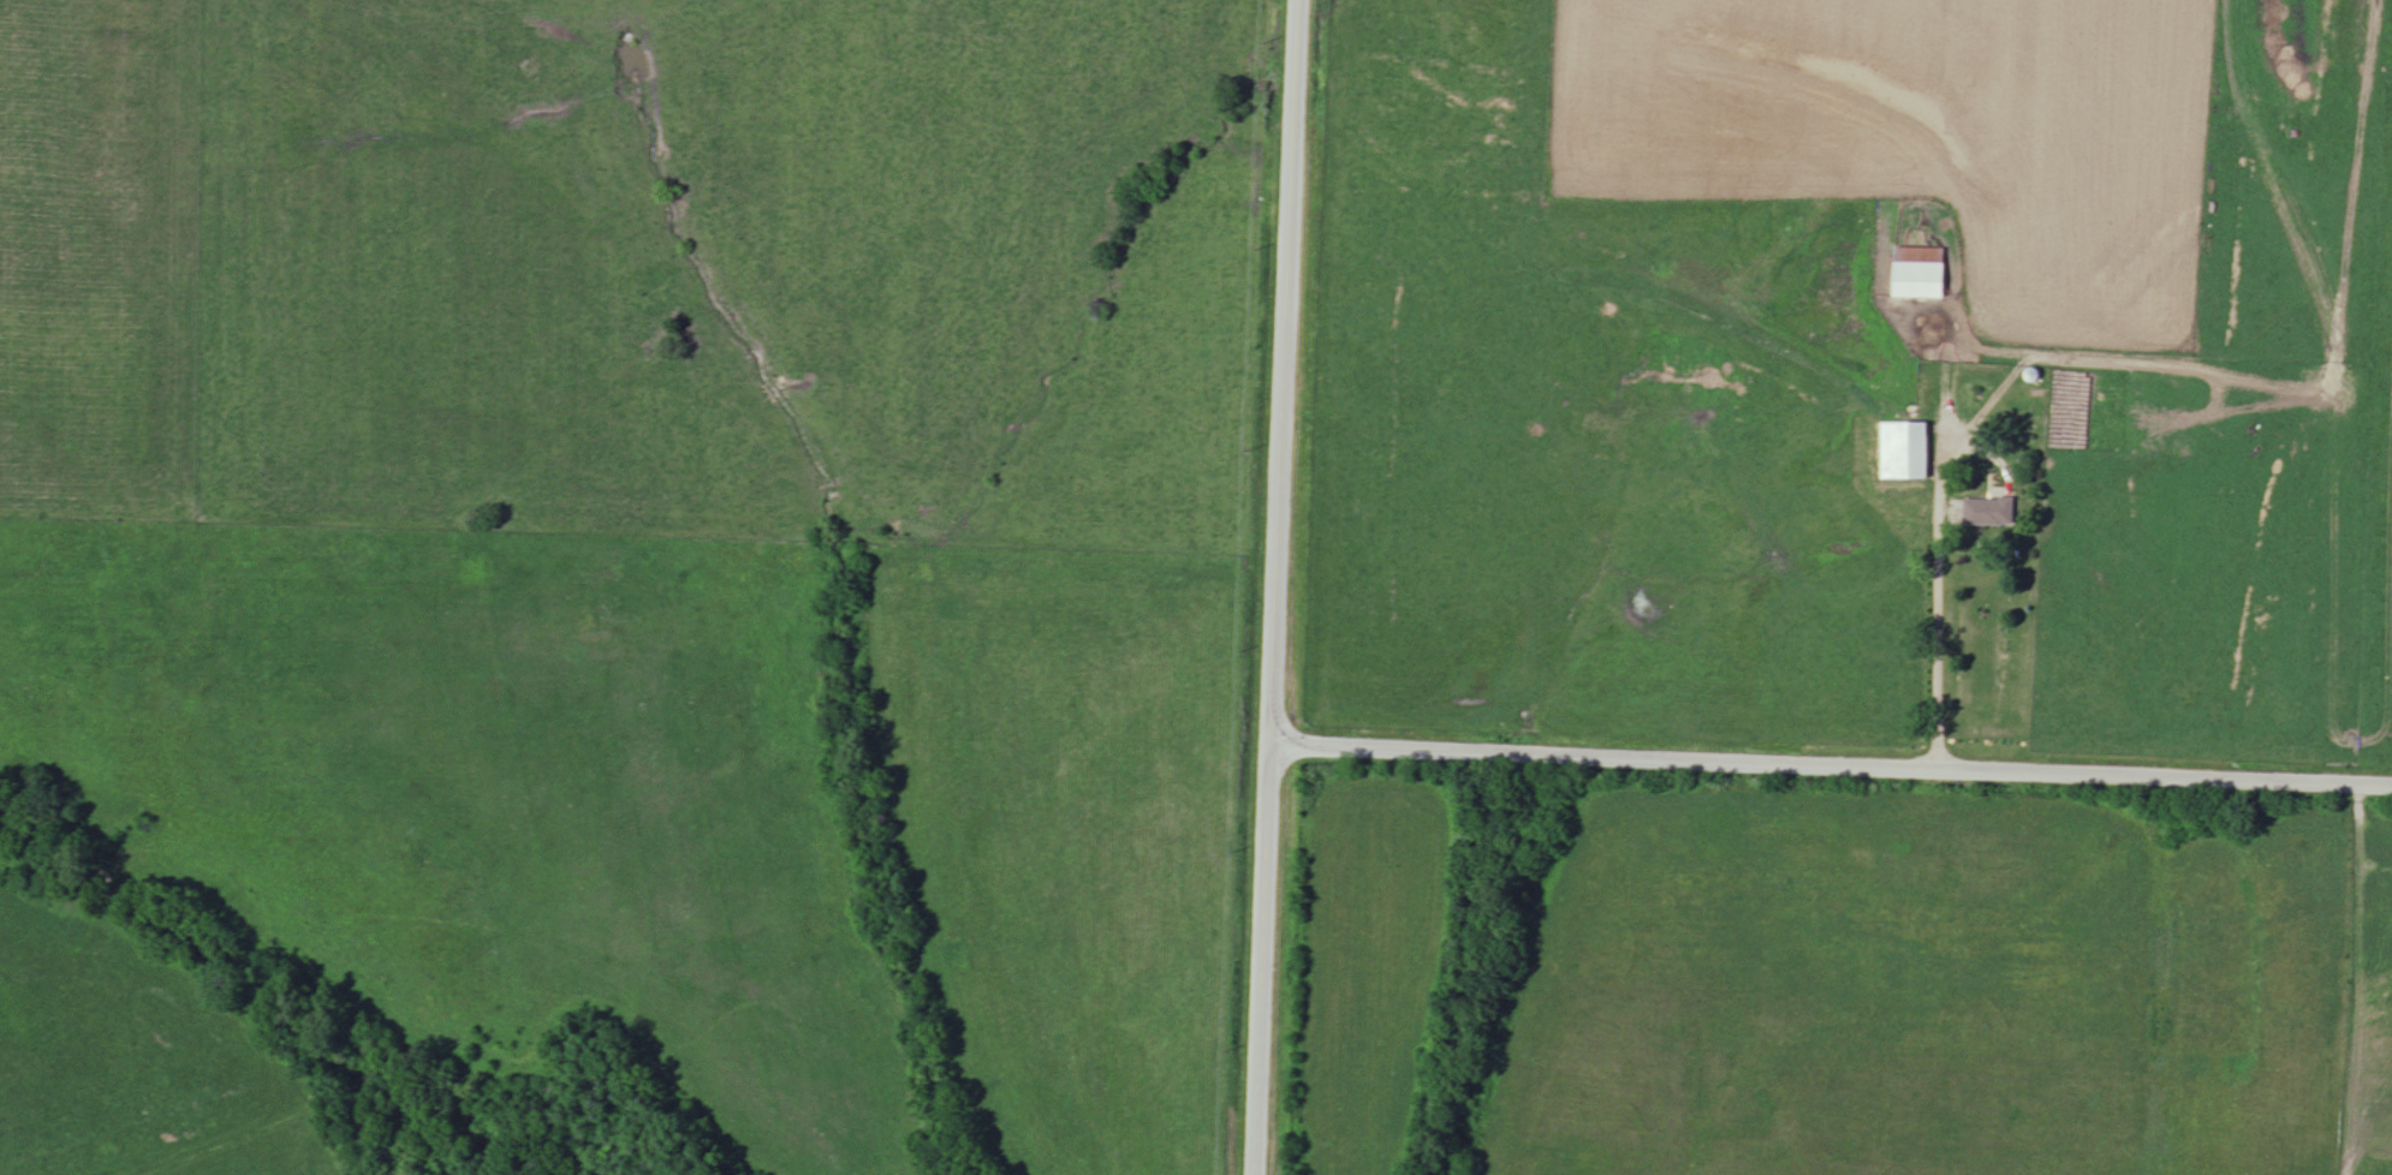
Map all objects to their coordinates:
crop: (1916, 132)
building: (1920, 273)
building: (1905, 452)
building: (1989, 513)
road: (1274, 586)
road: (1939, 640)
road: (1829, 767)

